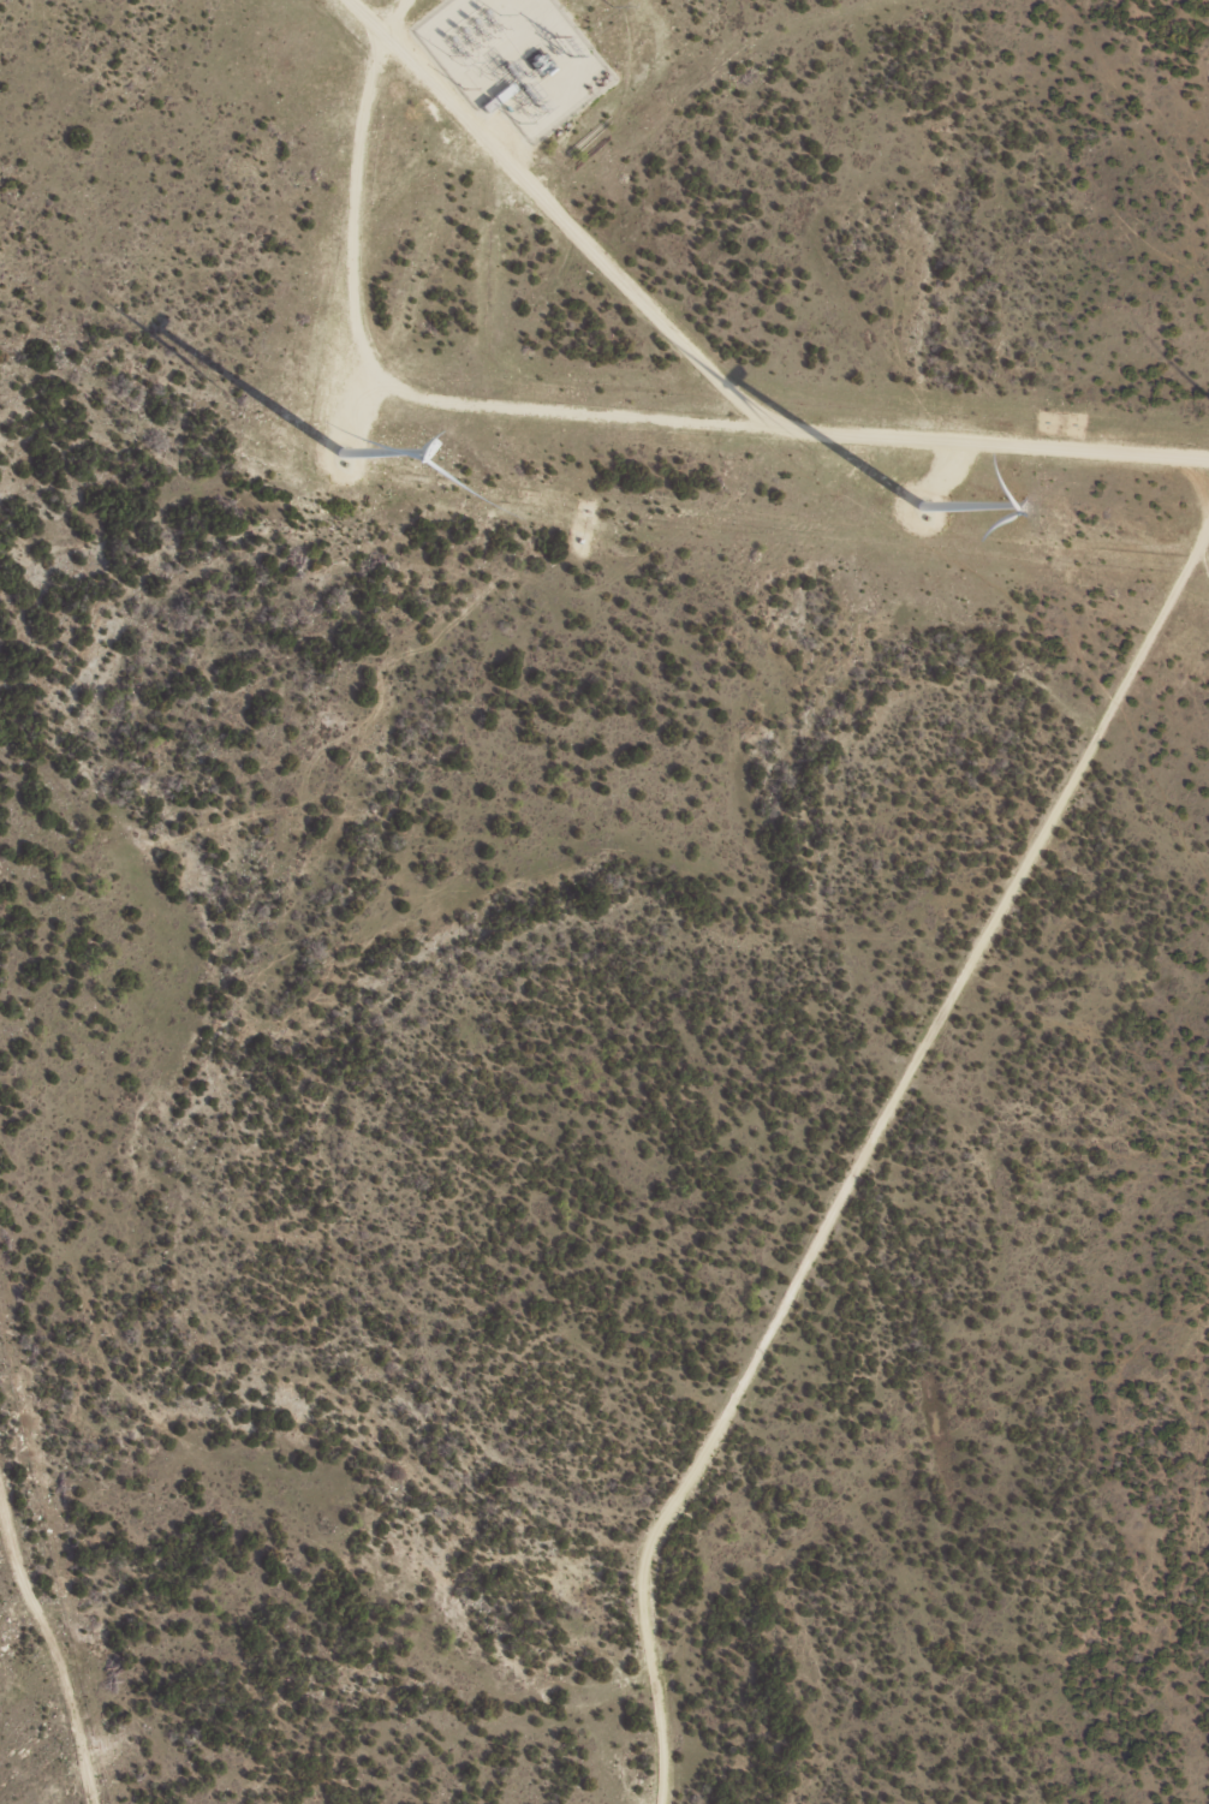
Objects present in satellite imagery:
power tower: (612, 7)
power tower: (559, 46)
power substation: (513, 58)
wind turbine: (343, 448)
wind turbine: (949, 481)
road: (847, 1189)
road: (36, 1666)
road: (26, 1782)

